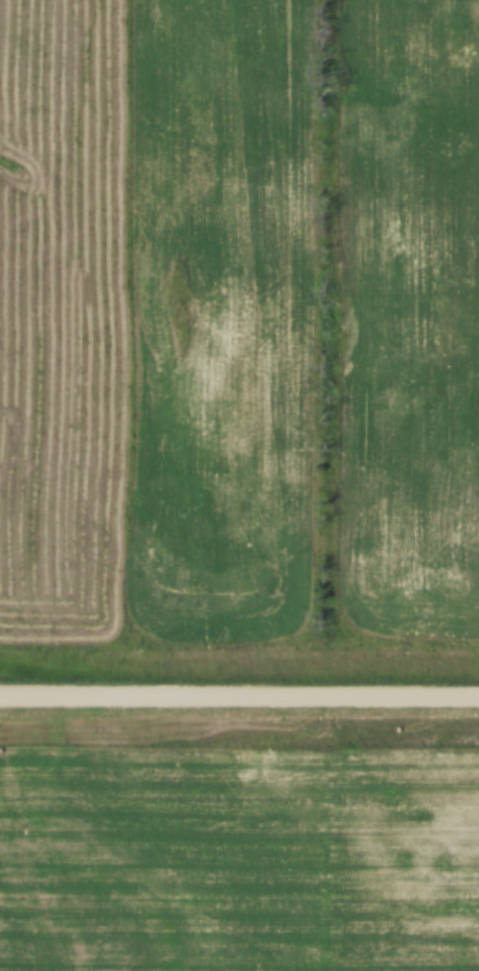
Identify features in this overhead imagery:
road: (239, 695)

